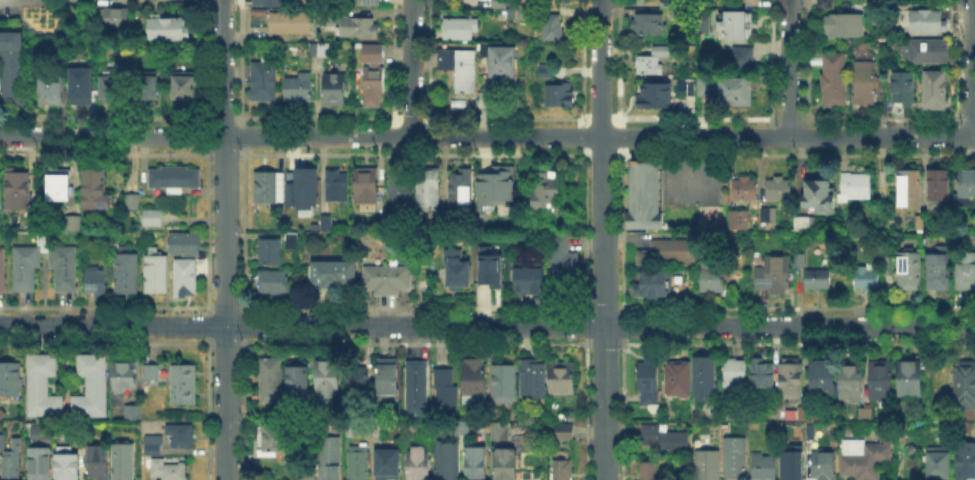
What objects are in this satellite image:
building: (750, 1)
building: (274, 2)
building: (369, 2)
building: (827, 3)
building: (501, 4)
building: (116, 17)
building: (928, 22)
building: (842, 23)
building: (292, 24)
building: (349, 25)
building: (703, 25)
building: (651, 26)
building: (169, 27)
building: (738, 27)
building: (462, 29)
building: (554, 29)
building: (320, 51)
building: (928, 51)
building: (740, 59)
building: (500, 60)
building: (653, 61)
building: (10, 67)
road: (969, 67)
road: (411, 68)
road: (789, 68)
building: (461, 69)
building: (548, 71)
building: (370, 74)
building: (265, 79)
building: (835, 82)
building: (866, 84)
building: (703, 85)
building: (83, 87)
building: (115, 87)
building: (147, 88)
building: (186, 88)
building: (300, 89)
building: (735, 89)
building: (52, 90)
building: (336, 90)
building: (692, 90)
building: (904, 90)
building: (935, 90)
building: (561, 96)
building: (657, 96)
road: (487, 136)
building: (176, 179)
building: (56, 183)
building: (967, 184)
building: (336, 186)
building: (856, 186)
building: (940, 186)
building: (270, 187)
building: (497, 187)
building: (93, 188)
building: (367, 188)
building: (430, 188)
building: (19, 190)
building: (461, 190)
building: (746, 190)
building: (911, 190)
building: (546, 191)
building: (780, 191)
building: (820, 195)
building: (400, 197)
building: (645, 197)
building: (129, 200)
building: (311, 201)
building: (769, 216)
building: (153, 218)
building: (740, 220)
building: (71, 221)
building: (327, 224)
building: (804, 225)
road: (225, 239)
road: (603, 239)
building: (292, 241)
building: (186, 243)
building: (270, 252)
building: (670, 254)
building: (28, 260)
building: (800, 262)
building: (563, 265)
building: (888, 266)
building: (3, 270)
building: (911, 271)
building: (939, 271)
building: (458, 272)
building: (157, 273)
building: (498, 273)
building: (967, 273)
building: (127, 274)
building: (330, 275)
building: (775, 275)
building: (869, 277)
building: (187, 278)
building: (528, 280)
building: (819, 280)
building: (387, 281)
building: (274, 283)
building: (714, 283)
building: (97, 284)
building: (656, 285)
road: (487, 325)
building: (148, 370)
building: (735, 373)
building: (125, 376)
building: (299, 377)
building: (563, 377)
building: (532, 378)
building: (706, 378)
building: (822, 378)
building: (10, 379)
building: (791, 379)
building: (328, 380)
building: (679, 380)
building: (763, 380)
building: (911, 380)
building: (272, 381)
building: (388, 381)
building: (474, 382)
building: (180, 383)
building: (504, 383)
building: (649, 383)
building: (852, 383)
building: (882, 383)
building: (965, 384)
building: (358, 385)
building: (44, 386)
building: (91, 388)
building: (417, 390)
building: (446, 394)
building: (807, 412)
building: (132, 415)
building: (866, 415)
building: (462, 429)
building: (378, 430)
building: (808, 430)
building: (37, 431)
building: (413, 431)
building: (500, 432)
building: (565, 433)
building: (181, 438)
building: (273, 441)
building: (665, 441)
building: (3, 443)
building: (736, 458)
building: (330, 459)
building: (861, 459)
building: (966, 460)
building: (447, 461)
building: (13, 462)
building: (124, 462)
building: (99, 463)
building: (164, 463)
building: (360, 463)
building: (789, 463)
building: (506, 464)
building: (820, 464)
building: (940, 464)
building: (41, 465)
building: (389, 465)
building: (420, 465)
building: (476, 465)
building: (761, 465)
building: (709, 466)
building: (69, 467)
building: (563, 470)
building: (650, 472)
building: (308, 477)

